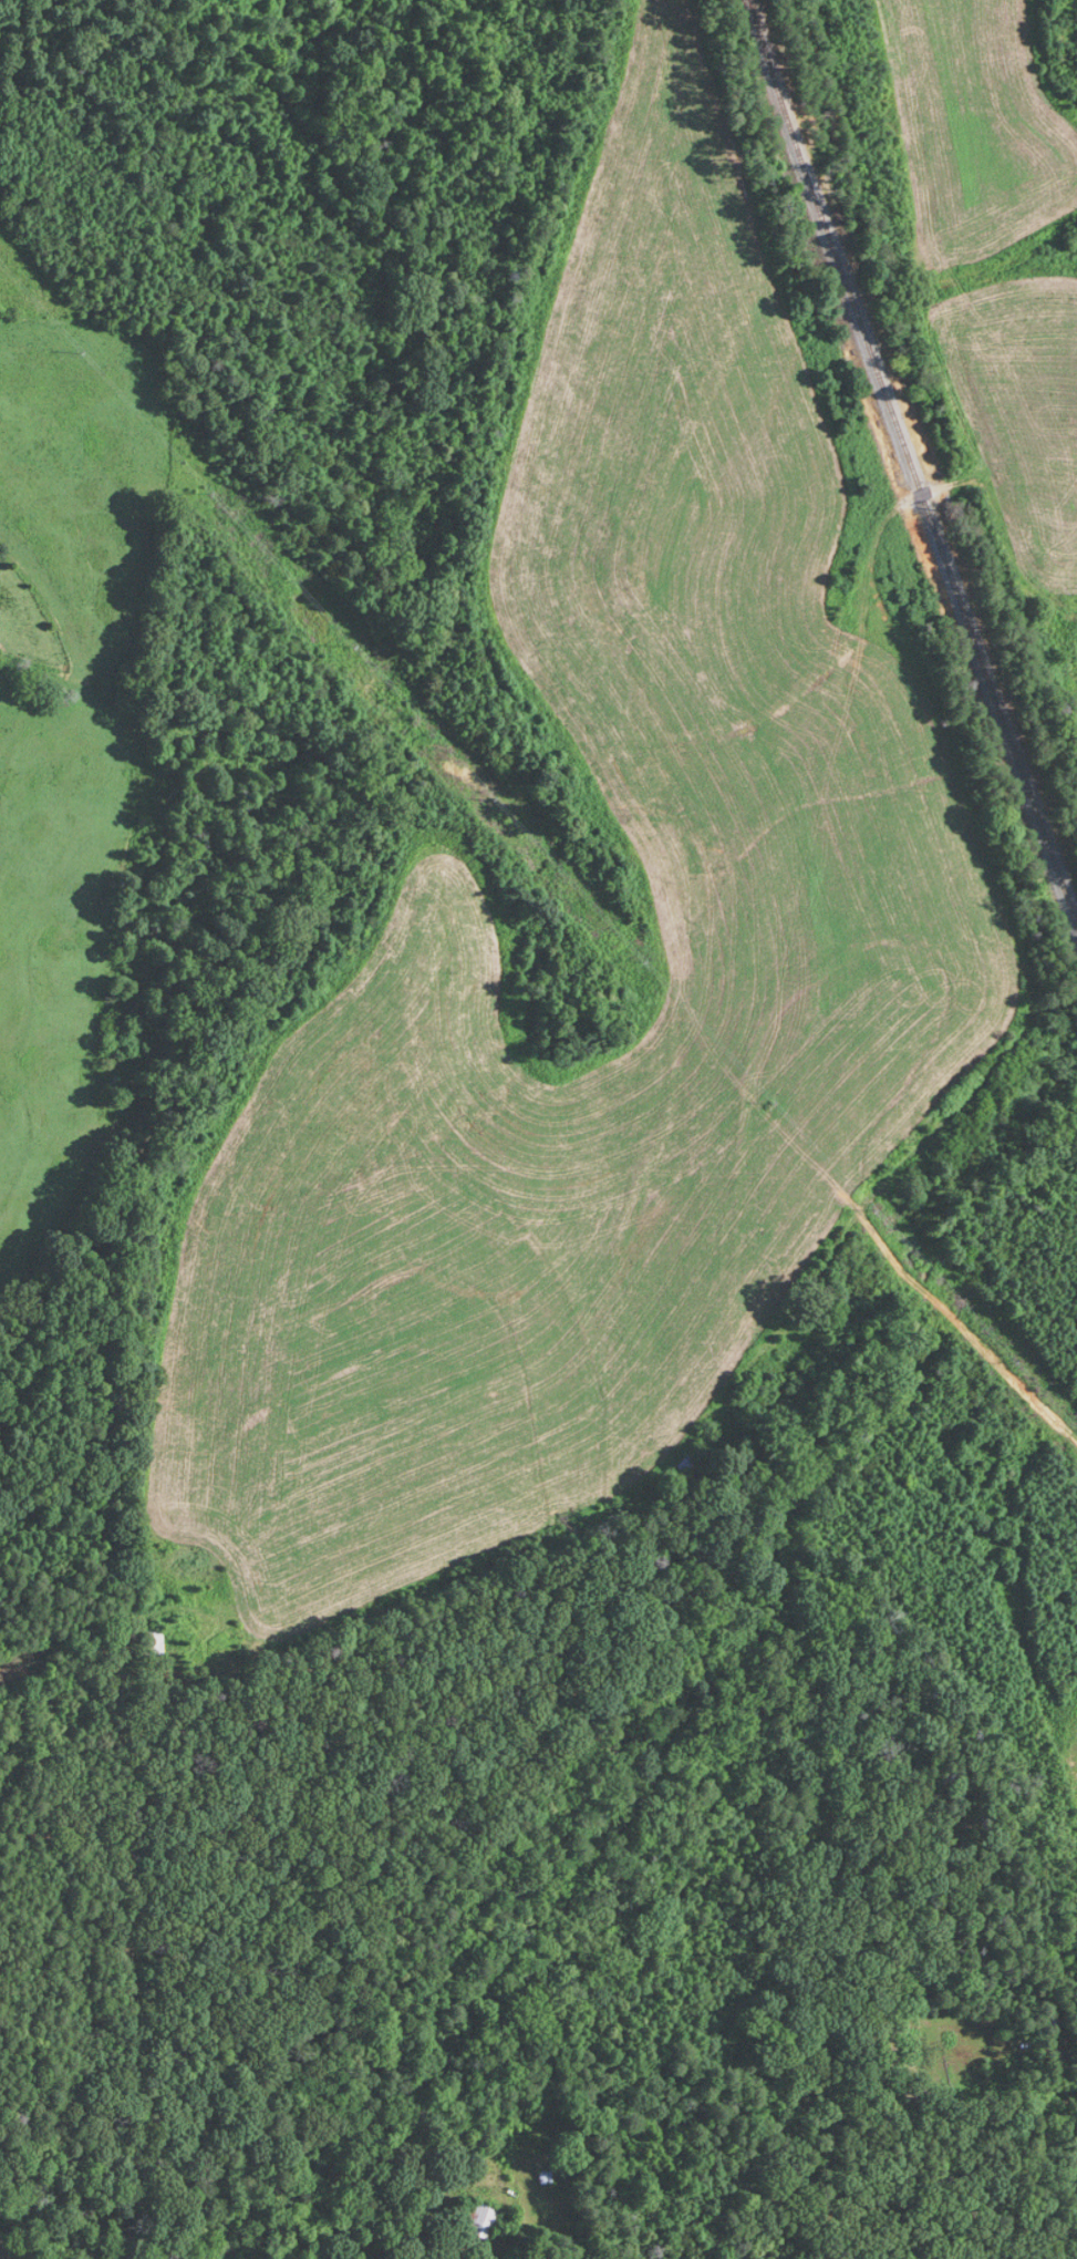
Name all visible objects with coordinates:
railway: (907, 466)
building: (1069, 659)
building: (152, 1641)
road: (55, 1642)
building: (481, 2220)

